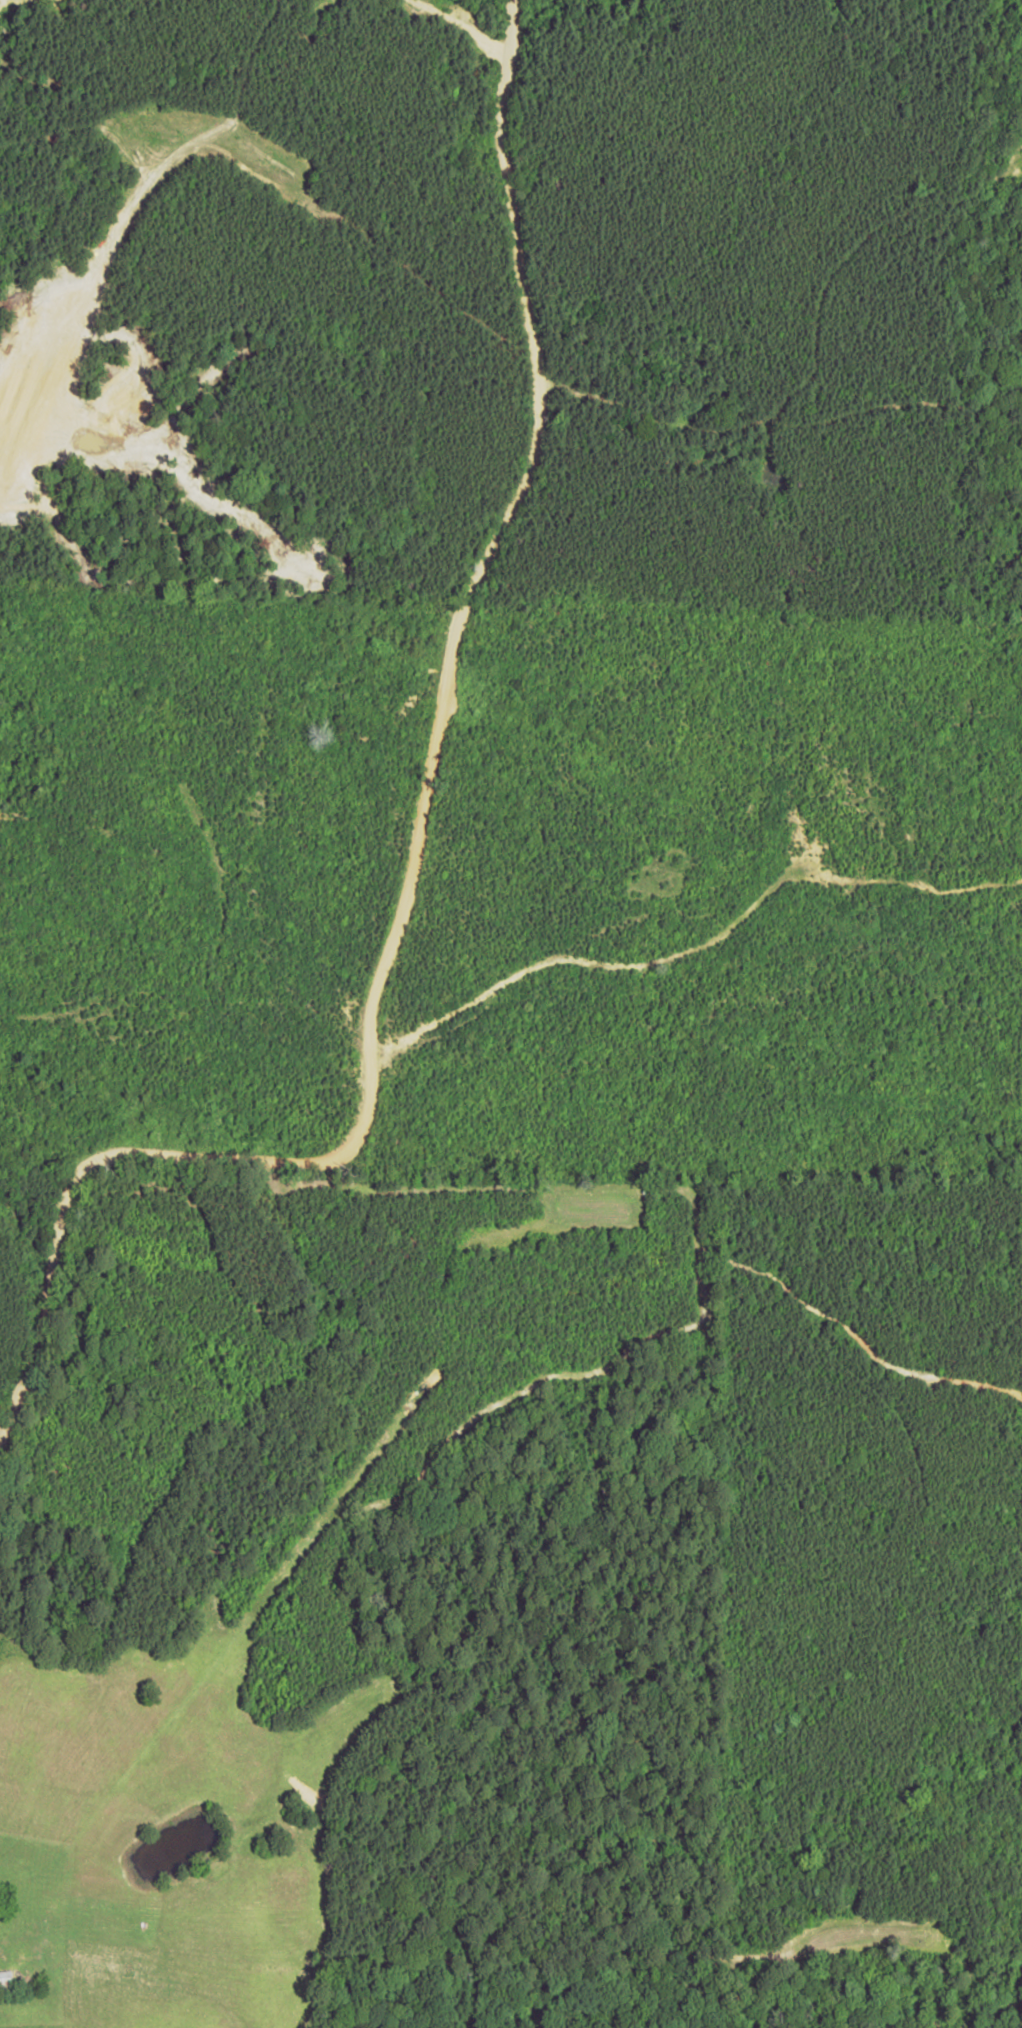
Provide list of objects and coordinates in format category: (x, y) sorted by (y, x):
road: (414, 929)
building: (6, 1978)

